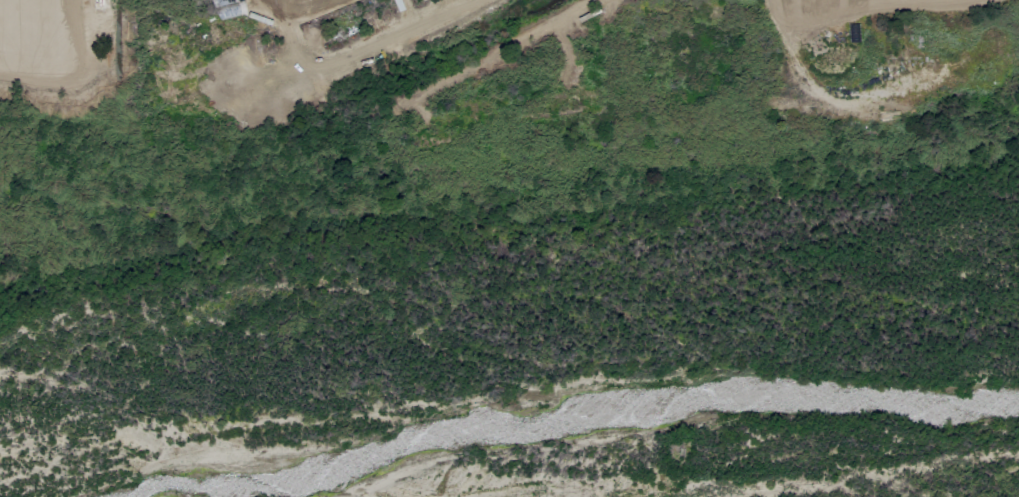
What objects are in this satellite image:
crop: (865, 9)
crop: (348, 27)
crop: (54, 45)

